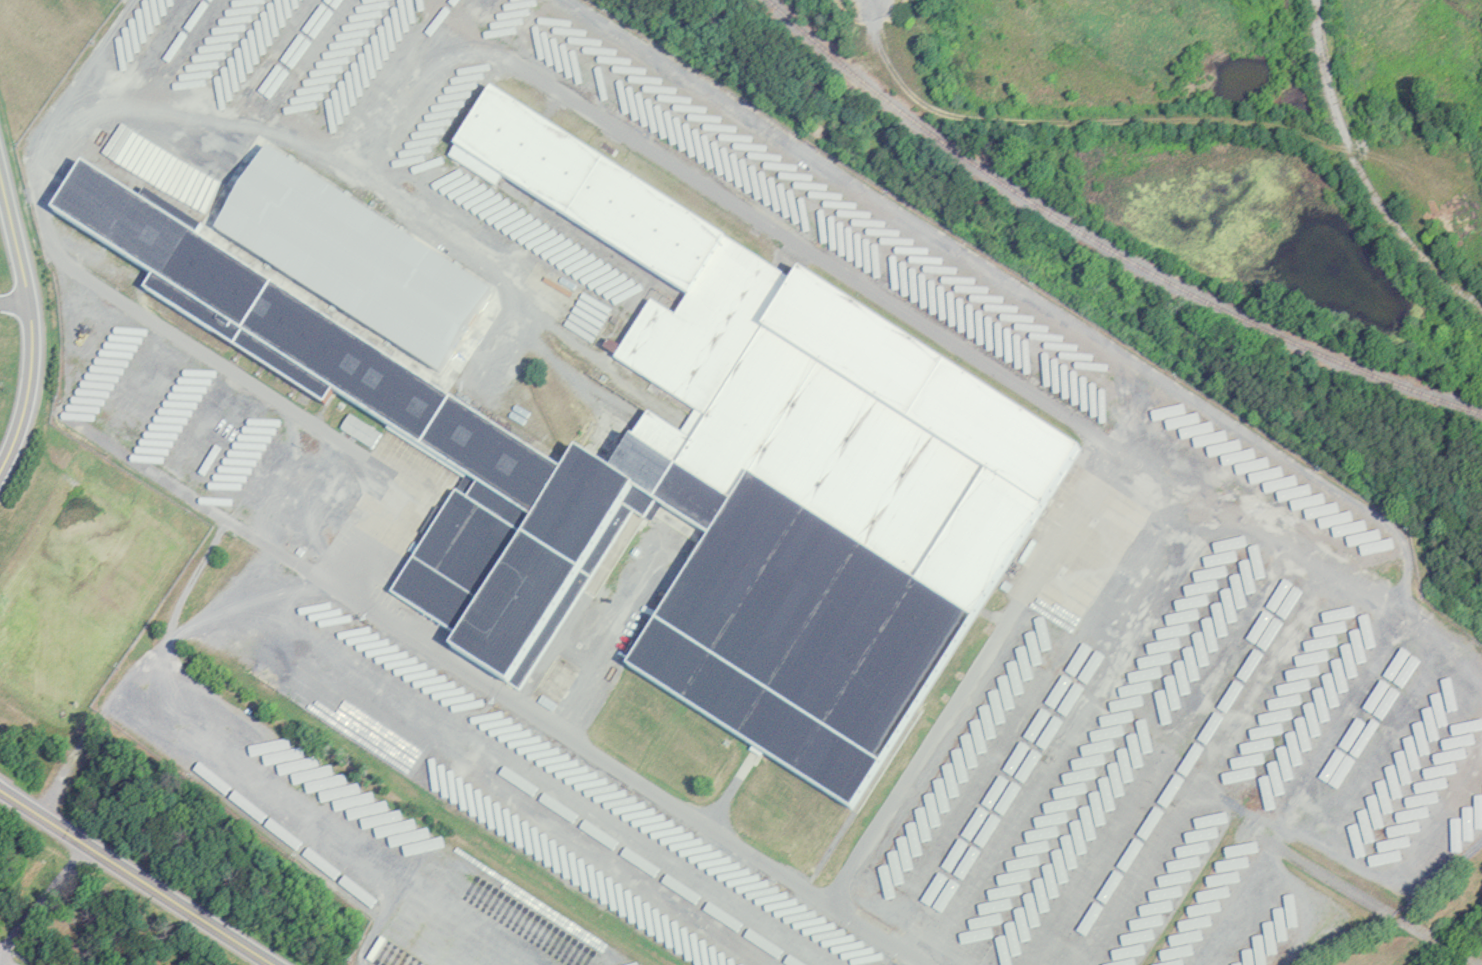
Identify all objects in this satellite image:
power plant: (880, 10)
building: (432, 33)
road: (1117, 122)
railway: (1360, 173)
railway: (1102, 245)
building: (353, 258)
road: (14, 307)
railway: (1002, 307)
road: (31, 322)
road: (990, 371)
building: (102, 394)
building: (87, 418)
building: (683, 468)
railway: (1152, 485)
railway: (1221, 504)
building: (600, 593)
railway: (1461, 598)
building: (323, 625)
building: (1303, 636)
building: (1012, 676)
building: (1409, 682)
road: (491, 690)
building: (505, 737)
building: (1429, 787)
road: (136, 877)
road: (45, 901)
building: (628, 905)

